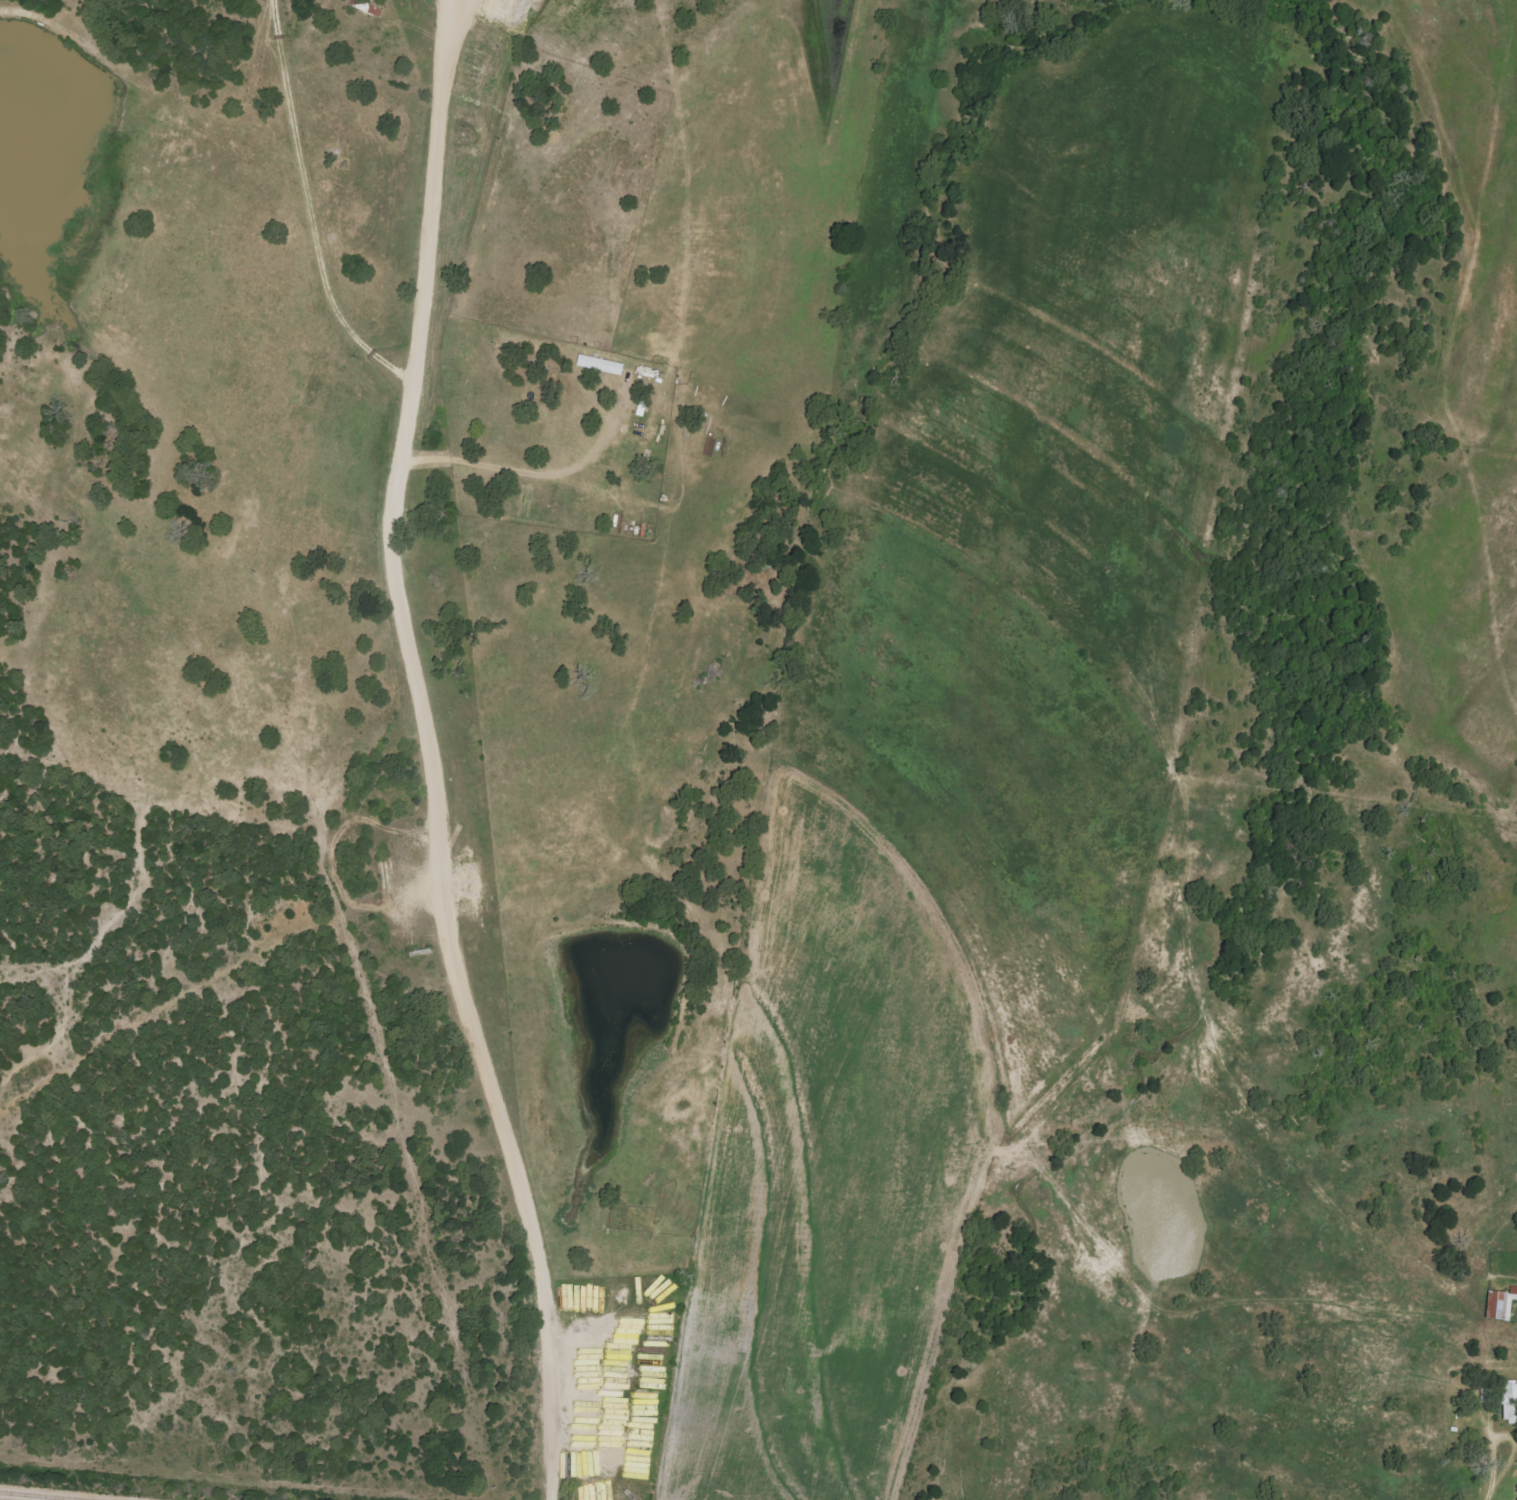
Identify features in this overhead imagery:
building: (366, 8)
building: (599, 365)
road: (434, 753)
building: (1500, 1305)
building: (1508, 1403)
road: (1504, 1461)
railway: (51, 1494)

